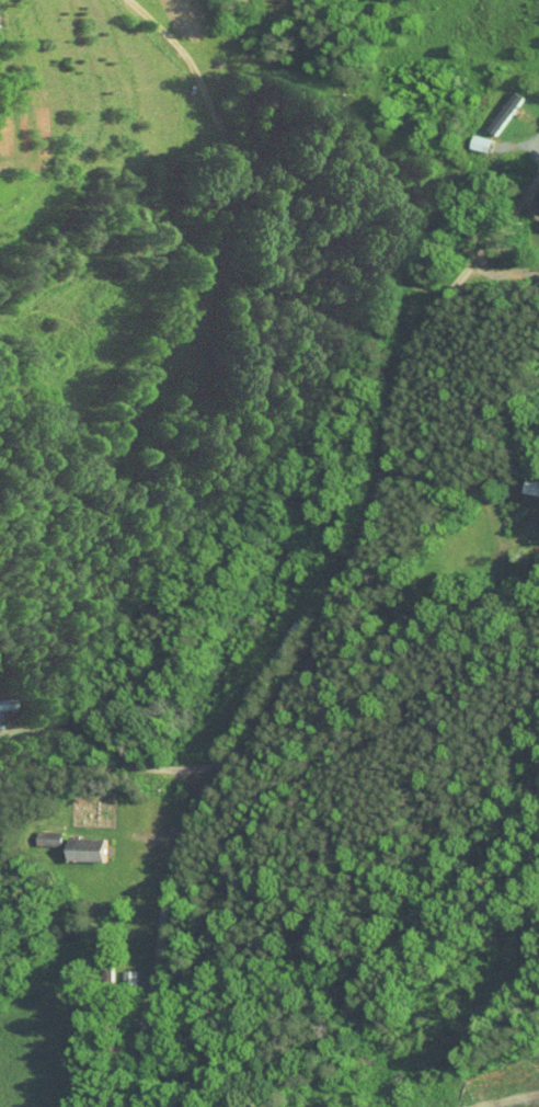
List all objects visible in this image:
building: (494, 105)
building: (536, 110)
building: (537, 199)
road: (531, 205)
road: (230, 217)
road: (501, 274)
building: (526, 480)
road: (337, 604)
building: (1, 696)
road: (114, 767)
park: (93, 812)
building: (41, 832)
building: (82, 843)
building: (119, 970)

